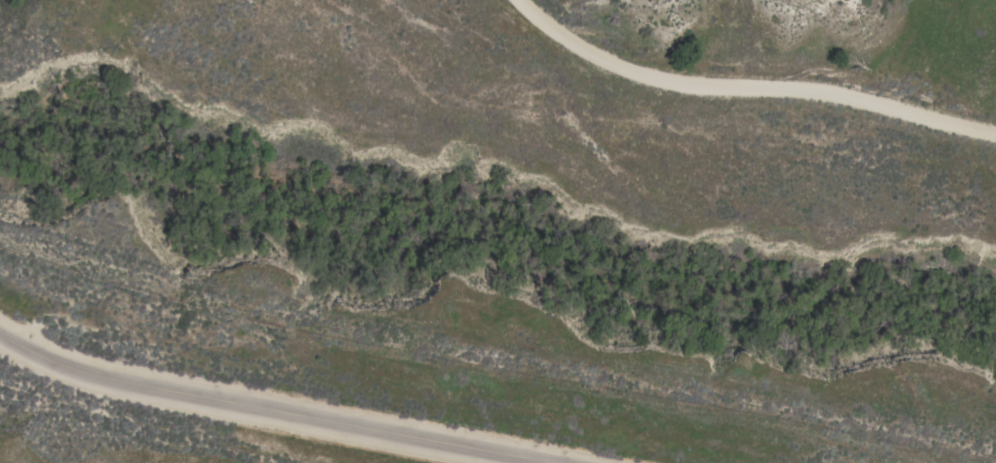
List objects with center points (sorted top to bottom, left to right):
road: (749, 92)
road: (276, 409)

